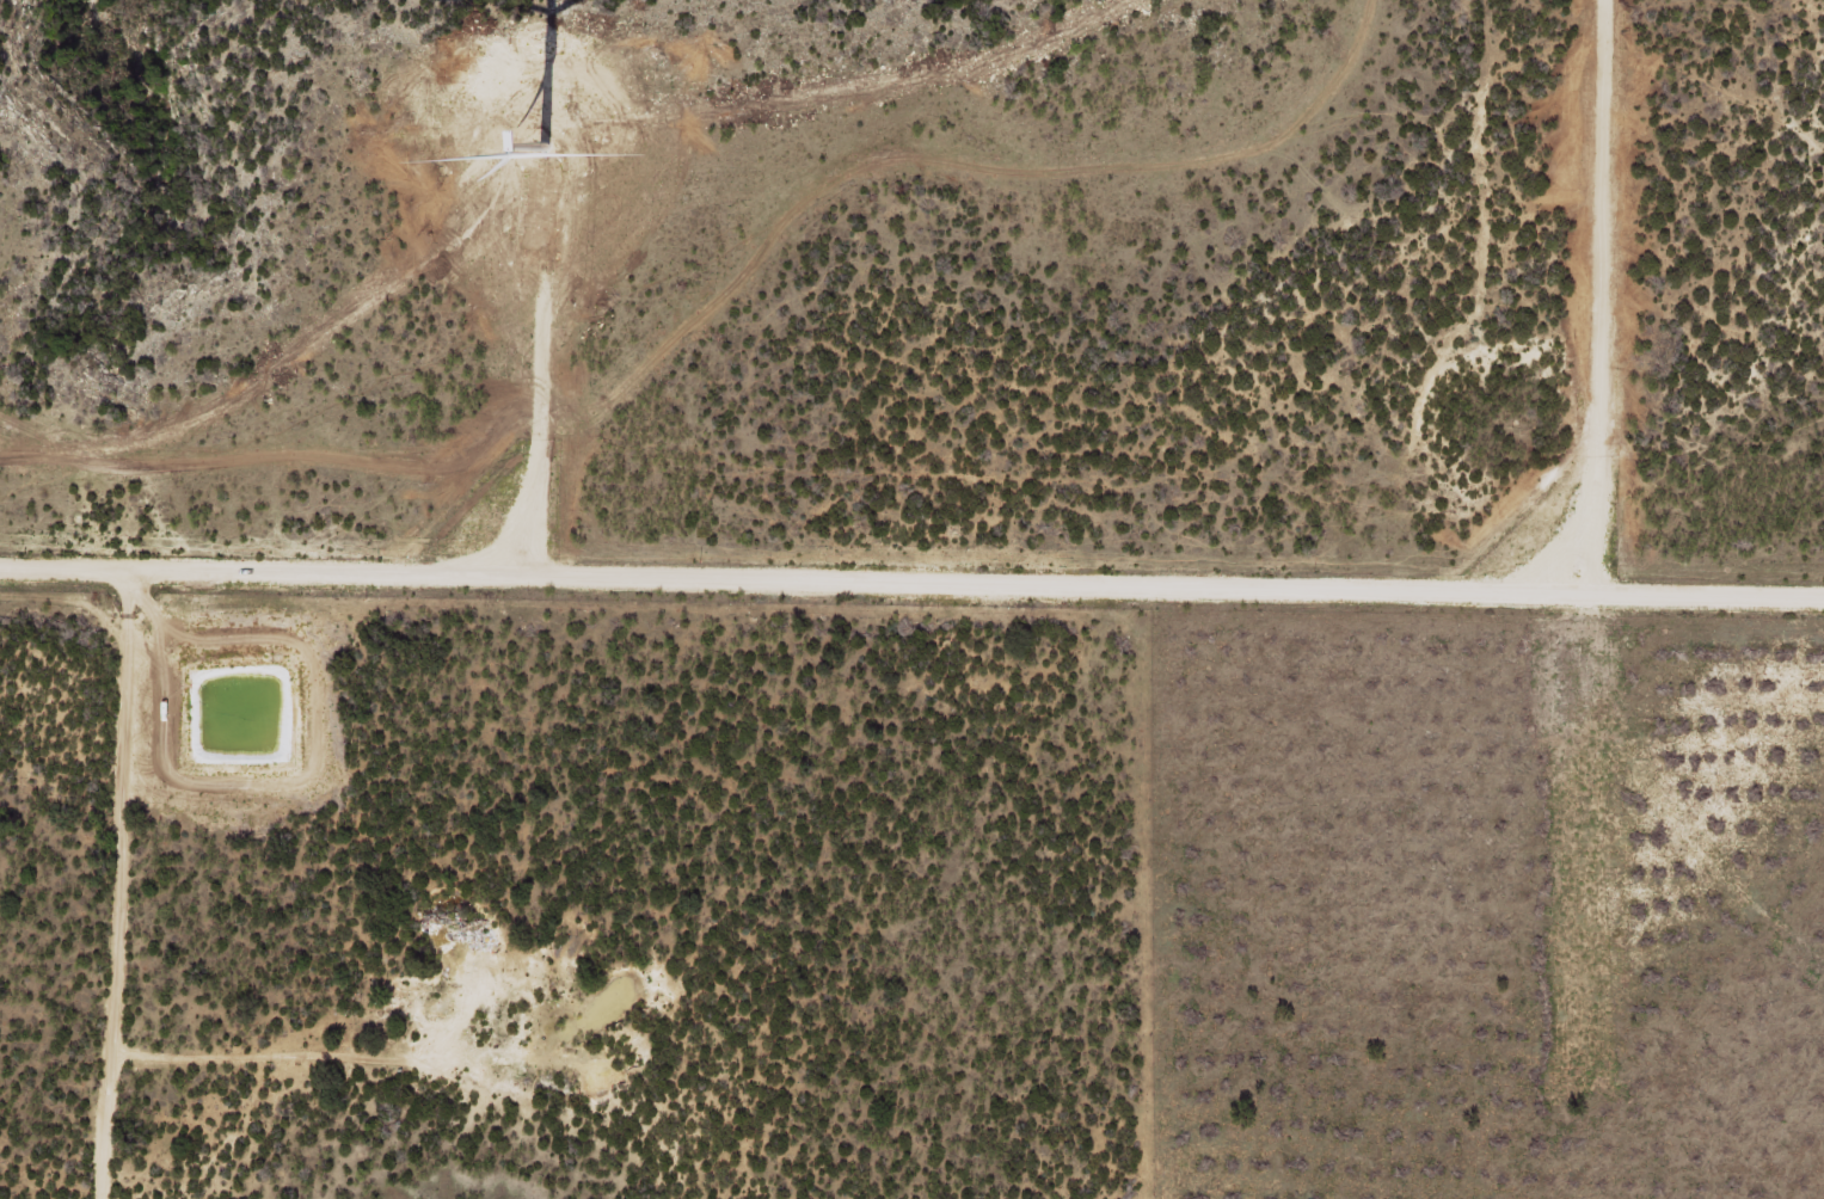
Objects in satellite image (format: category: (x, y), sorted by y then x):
wind turbine: (541, 139)
road: (1696, 439)
road: (911, 583)
road: (173, 885)

